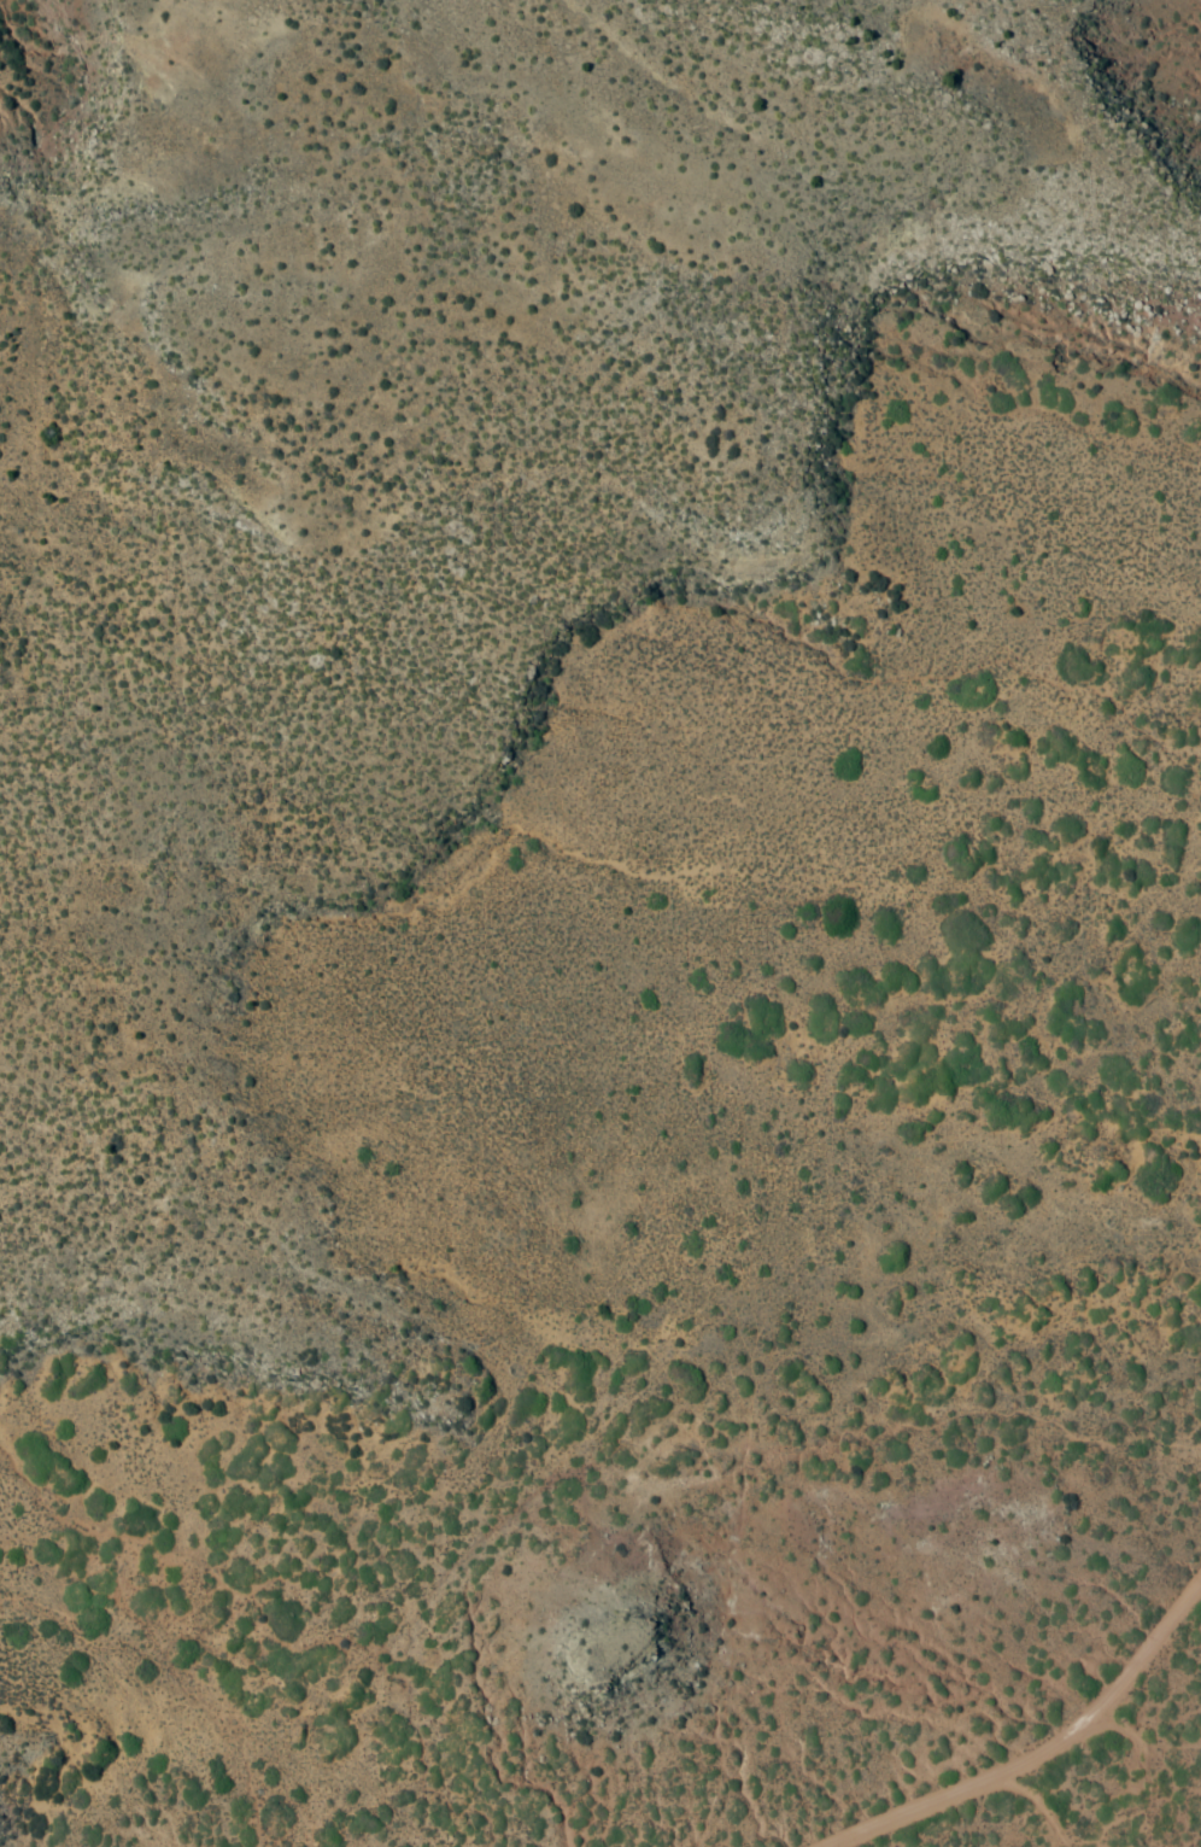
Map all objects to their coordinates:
road: (1039, 1746)

